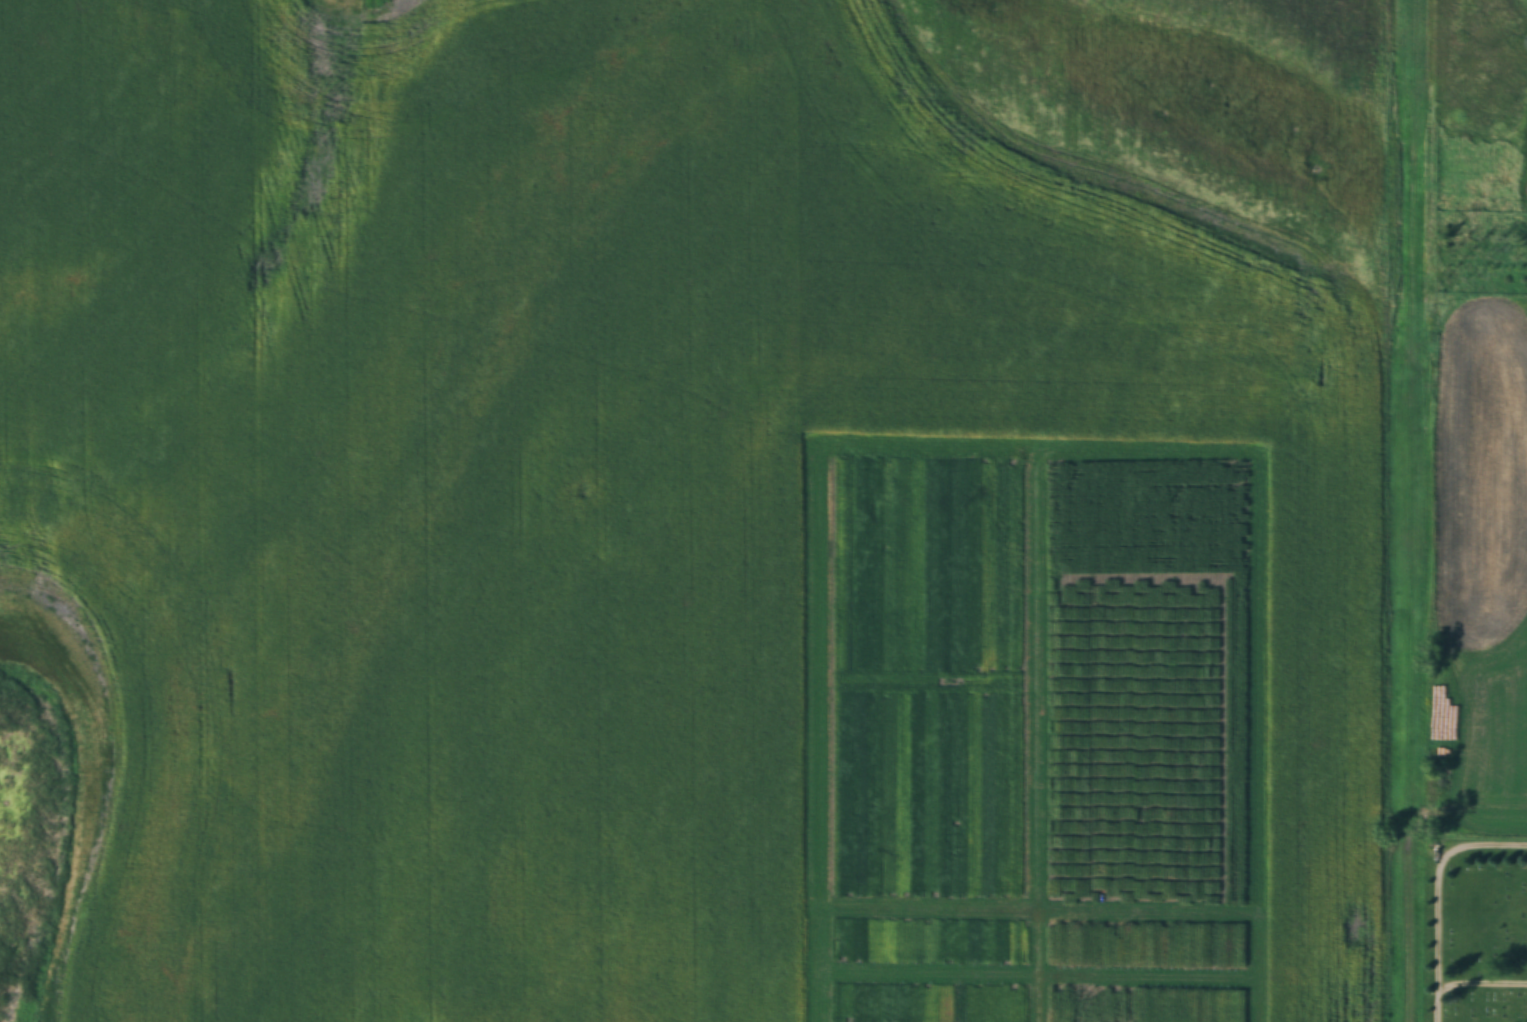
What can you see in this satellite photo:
road: (1415, 667)

